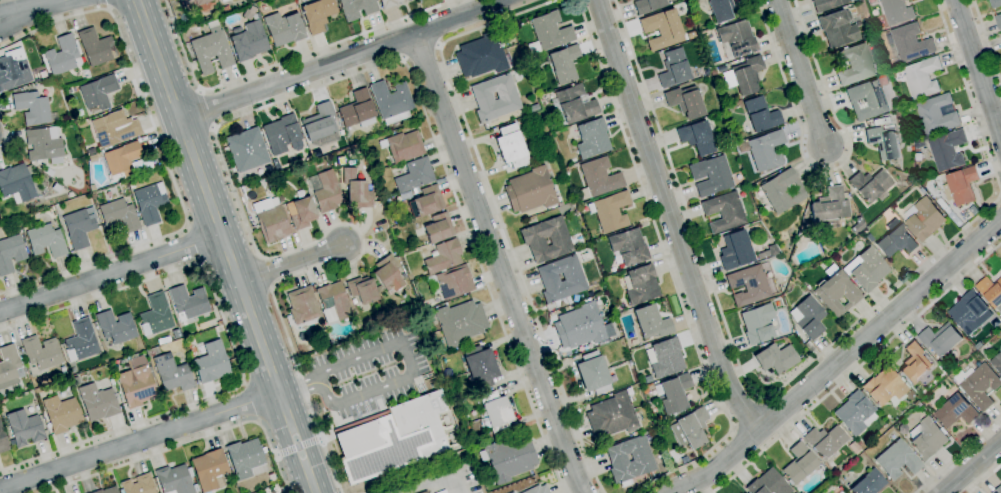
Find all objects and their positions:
building: (223, 1)
road: (107, 3)
building: (388, 3)
building: (996, 3)
building: (197, 4)
building: (827, 4)
building: (647, 5)
road: (29, 8)
building: (357, 8)
building: (226, 9)
building: (720, 9)
building: (898, 11)
building: (248, 12)
building: (318, 14)
building: (999, 20)
building: (283, 28)
building: (838, 28)
building: (662, 29)
building: (548, 33)
building: (865, 35)
building: (736, 39)
road: (987, 40)
building: (247, 41)
building: (910, 43)
building: (96, 47)
building: (211, 49)
road: (420, 53)
building: (62, 56)
building: (482, 56)
road: (342, 59)
road: (281, 63)
building: (564, 63)
building: (857, 65)
road: (978, 67)
building: (674, 68)
building: (713, 71)
road: (800, 72)
building: (13, 73)
building: (745, 76)
building: (924, 76)
building: (69, 91)
building: (98, 92)
building: (507, 96)
building: (867, 100)
building: (391, 102)
building: (685, 102)
building: (573, 105)
building: (33, 108)
building: (534, 108)
road: (207, 109)
building: (357, 110)
road: (250, 112)
building: (939, 113)
building: (759, 115)
building: (319, 122)
building: (115, 128)
road: (9, 134)
building: (283, 135)
building: (697, 137)
building: (592, 138)
building: (884, 141)
building: (43, 144)
building: (403, 146)
building: (511, 146)
building: (246, 149)
building: (949, 149)
building: (764, 150)
road: (165, 157)
building: (92, 158)
building: (120, 161)
road: (827, 170)
building: (414, 175)
building: (711, 176)
building: (599, 177)
building: (910, 181)
building: (16, 184)
building: (870, 184)
building: (370, 185)
building: (131, 186)
building: (962, 186)
building: (923, 189)
building: (325, 190)
building: (356, 190)
building: (415, 190)
building: (530, 190)
building: (783, 191)
building: (405, 196)
building: (150, 202)
building: (426, 202)
building: (829, 209)
road: (497, 211)
building: (610, 211)
building: (724, 211)
building: (302, 213)
building: (119, 216)
building: (925, 218)
road: (671, 219)
building: (270, 220)
building: (857, 225)
building: (803, 226)
building: (79, 227)
building: (439, 228)
building: (869, 238)
building: (897, 239)
building: (46, 240)
building: (533, 242)
road: (226, 246)
building: (628, 246)
building: (735, 251)
building: (767, 252)
building: (10, 254)
building: (443, 256)
building: (398, 257)
road: (290, 263)
road: (496, 263)
building: (866, 269)
road: (670, 270)
road: (111, 273)
building: (388, 274)
building: (404, 276)
building: (573, 277)
building: (451, 282)
building: (641, 284)
building: (748, 285)
building: (362, 290)
building: (991, 290)
building: (836, 291)
building: (353, 301)
building: (333, 302)
building: (188, 304)
building: (303, 305)
building: (972, 312)
building: (156, 315)
building: (808, 317)
building: (460, 322)
building: (652, 322)
building: (758, 323)
building: (581, 326)
building: (116, 327)
building: (942, 339)
building: (81, 341)
building: (322, 343)
road: (231, 344)
building: (41, 352)
building: (664, 357)
building: (776, 358)
building: (997, 361)
building: (123, 362)
building: (212, 362)
road: (838, 362)
building: (915, 362)
road: (412, 363)
building: (479, 364)
building: (9, 366)
road: (856, 368)
building: (62, 369)
building: (172, 373)
building: (593, 373)
road: (798, 373)
building: (648, 379)
building: (111, 382)
building: (137, 383)
building: (980, 385)
road: (289, 388)
building: (887, 388)
building: (674, 393)
building: (916, 400)
building: (97, 402)
road: (251, 403)
building: (459, 409)
building: (957, 411)
building: (494, 413)
building: (855, 413)
building: (61, 414)
building: (612, 416)
building: (24, 428)
building: (690, 429)
building: (396, 438)
building: (928, 438)
road: (139, 440)
building: (11, 441)
building: (2, 442)
building: (859, 442)
road: (185, 443)
building: (826, 443)
road: (296, 446)
building: (853, 448)
building: (263, 450)
road: (958, 456)
building: (862, 457)
building: (509, 458)
building: (246, 459)
building: (684, 460)
building: (897, 460)
building: (641, 461)
building: (470, 463)
building: (800, 464)
building: (849, 465)
road: (970, 466)
building: (210, 470)
building: (271, 478)
road: (984, 478)
building: (174, 480)
road: (434, 480)
building: (869, 483)
building: (768, 484)
building: (138, 485)
building: (195, 488)
building: (537, 489)
building: (108, 490)
building: (998, 490)
building: (424, 492)
building: (511, 492)
building: (513, 492)
building: (840, 492)

